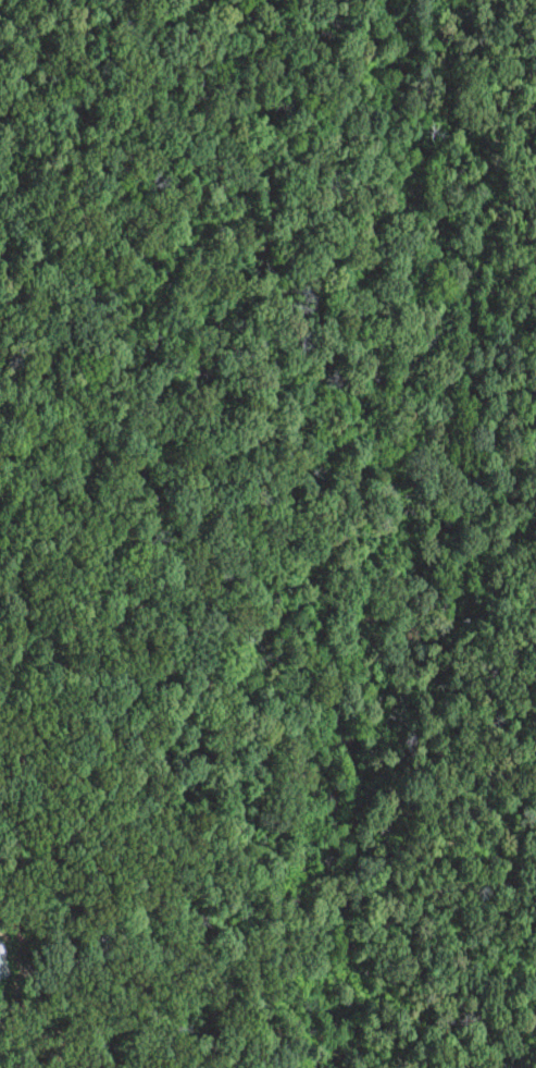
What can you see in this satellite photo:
building: (4, 962)

